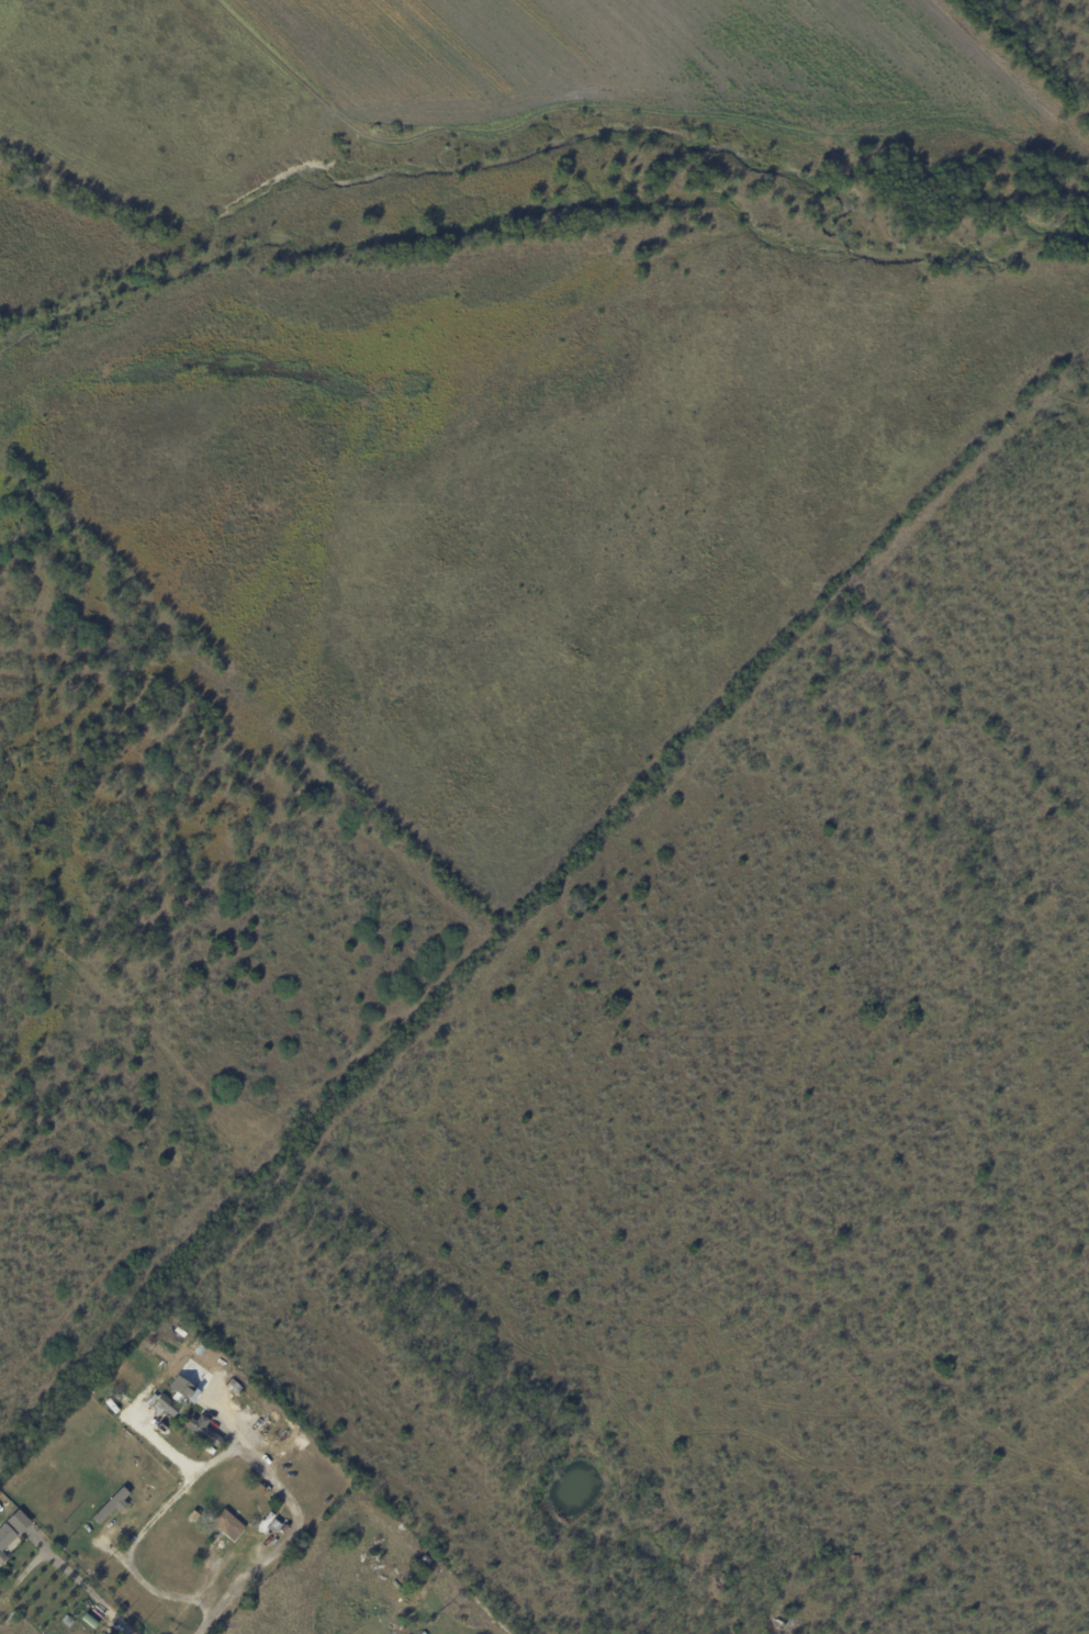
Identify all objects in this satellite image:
building: (181, 1330)
building: (233, 1386)
building: (180, 1390)
building: (165, 1406)
building: (203, 1429)
building: (110, 1506)
road: (156, 1511)
building: (193, 1518)
building: (16, 1521)
building: (228, 1524)
building: (280, 1530)
building: (4, 1538)
road: (280, 1542)
building: (426, 1559)
road: (69, 1569)
building: (722, 1580)
road: (198, 1608)
road: (176, 1615)
building: (91, 1619)
building: (67, 1621)
building: (424, 1633)

